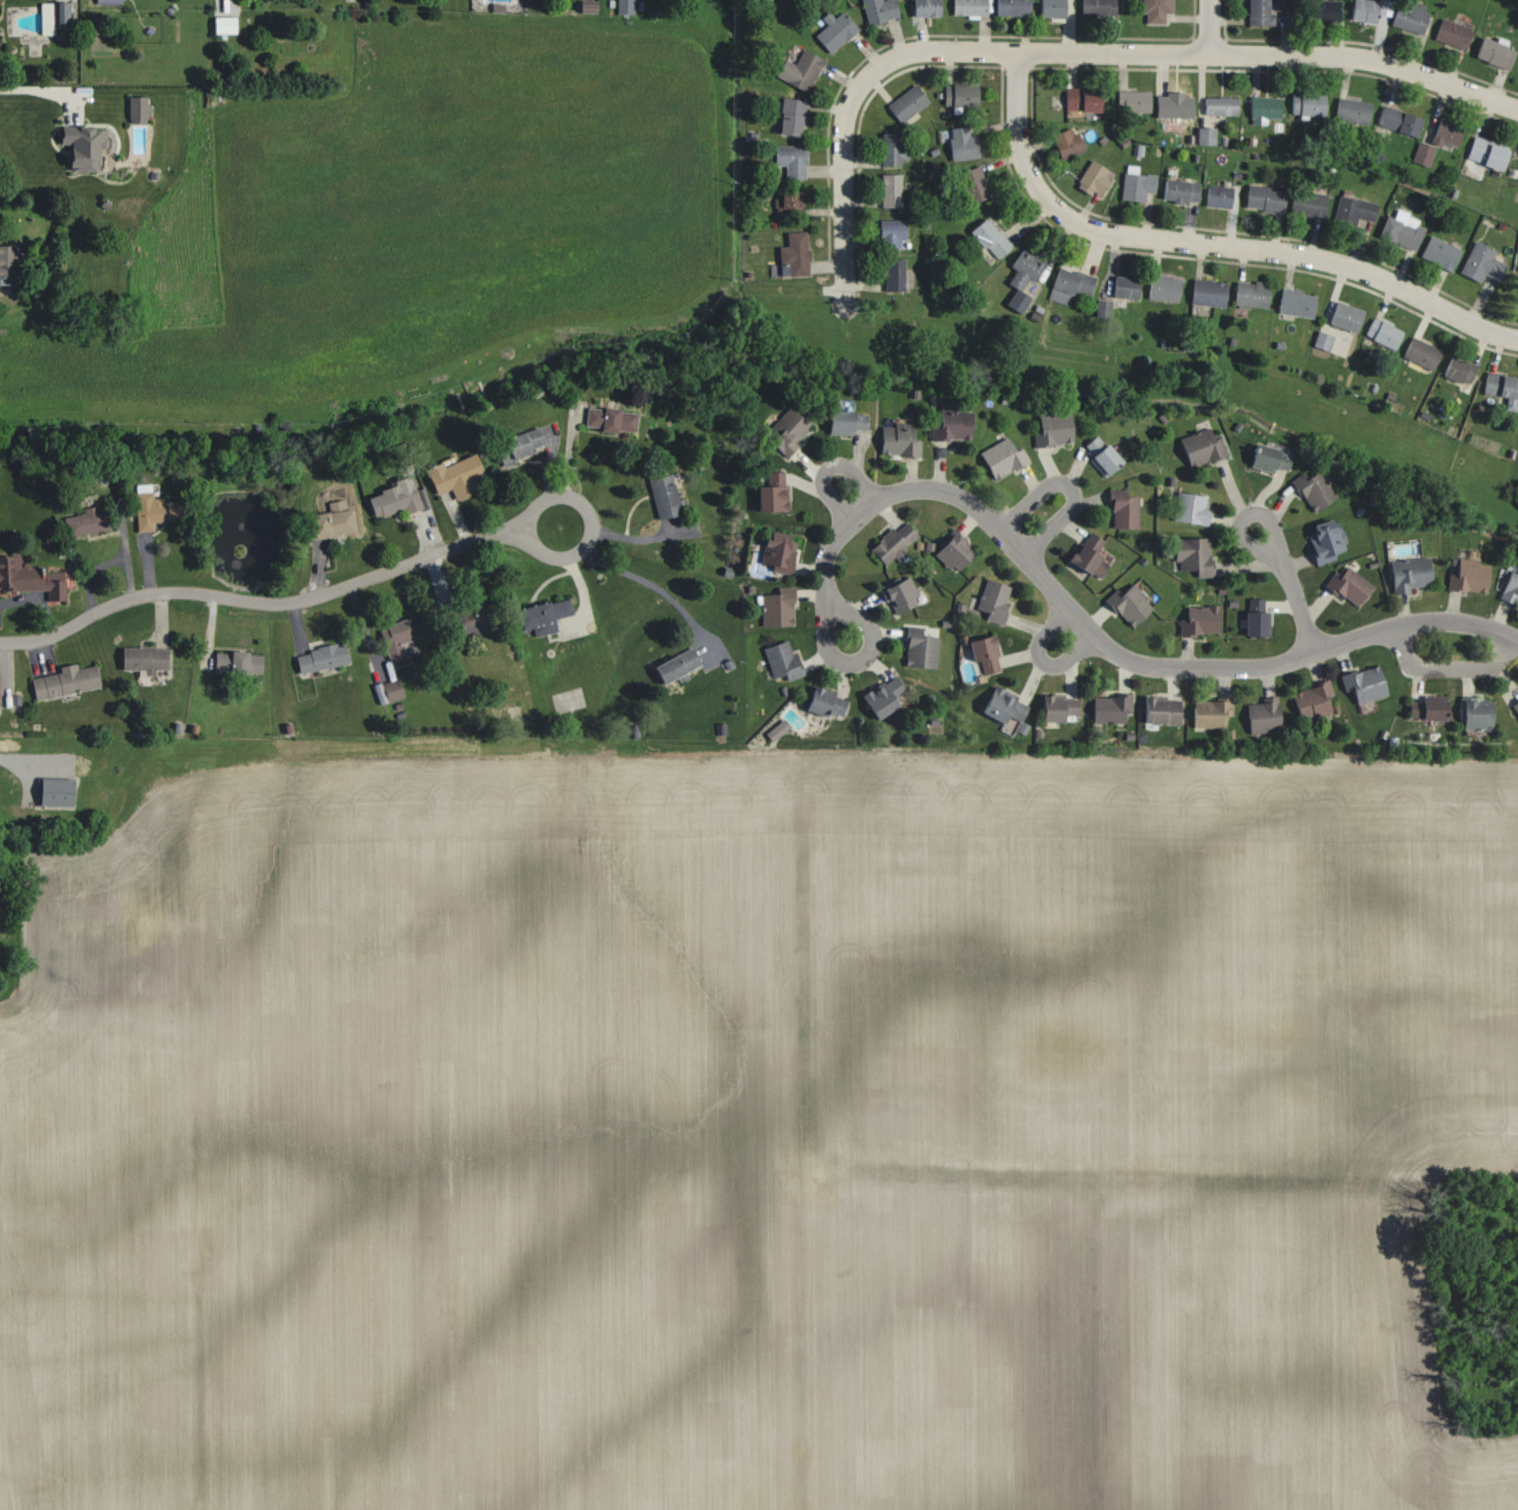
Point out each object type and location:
building: (108, 2)
building: (624, 7)
building: (924, 7)
building: (969, 7)
building: (1011, 7)
building: (587, 8)
building: (1052, 8)
building: (1098, 8)
building: (1156, 9)
building: (879, 10)
building: (1363, 10)
building: (1326, 11)
building: (1258, 12)
building: (1409, 16)
building: (53, 17)
building: (223, 26)
road: (1207, 26)
building: (834, 31)
building: (1452, 33)
road: (1110, 50)
building: (1494, 51)
road: (1365, 59)
building: (800, 70)
road: (36, 88)
building: (960, 94)
building: (1081, 99)
building: (1134, 101)
building: (907, 103)
road: (847, 105)
building: (1174, 105)
building: (1307, 105)
building: (1220, 106)
building: (137, 109)
building: (1264, 109)
building: (1352, 111)
building: (791, 115)
building: (1398, 120)
building: (1446, 132)
building: (1206, 135)
building: (1066, 143)
building: (961, 144)
building: (82, 145)
building: (891, 149)
building: (1486, 153)
building: (1423, 154)
building: (790, 160)
building: (1094, 178)
building: (973, 184)
building: (1136, 184)
building: (890, 190)
building: (1181, 191)
building: (1217, 195)
building: (1264, 198)
building: (787, 200)
building: (1310, 203)
building: (1352, 209)
building: (1401, 229)
building: (891, 232)
building: (989, 238)
road: (1207, 242)
building: (1440, 253)
building: (794, 254)
building: (5, 260)
building: (1481, 263)
building: (894, 274)
building: (1021, 279)
building: (1068, 285)
building: (1125, 287)
building: (1163, 287)
building: (1208, 293)
building: (1250, 294)
building: (1296, 304)
building: (1345, 316)
building: (1383, 333)
building: (1322, 340)
building: (1421, 353)
building: (1459, 370)
building: (1502, 389)
building: (610, 420)
building: (844, 422)
building: (951, 425)
building: (1052, 429)
building: (787, 432)
building: (898, 441)
building: (519, 443)
building: (1201, 447)
building: (1101, 455)
building: (1001, 458)
building: (1269, 459)
road: (827, 466)
road: (909, 472)
building: (453, 476)
road: (1070, 488)
building: (1314, 489)
building: (772, 492)
building: (662, 495)
building: (397, 498)
building: (149, 508)
building: (1191, 508)
building: (1123, 510)
building: (331, 520)
road: (588, 520)
building: (87, 521)
road: (1237, 533)
building: (1325, 541)
building: (893, 544)
building: (778, 552)
building: (952, 553)
building: (1089, 555)
building: (1193, 555)
building: (1409, 574)
building: (1468, 576)
building: (29, 578)
building: (1348, 585)
building: (1510, 586)
road: (660, 587)
building: (899, 595)
road: (37, 600)
road: (255, 600)
building: (992, 601)
road: (1294, 602)
building: (1129, 605)
building: (777, 607)
building: (541, 615)
building: (468, 616)
building: (1200, 620)
building: (1254, 623)
building: (397, 637)
building: (919, 649)
road: (1110, 649)
building: (984, 652)
building: (320, 657)
road: (835, 658)
building: (142, 659)
road: (1040, 659)
building: (780, 660)
building: (239, 662)
building: (676, 665)
road: (1446, 665)
building: (64, 681)
building: (1364, 684)
building: (388, 691)
building: (882, 697)
building: (823, 702)
building: (1313, 702)
building: (1110, 708)
building: (1516, 708)
building: (1058, 709)
building: (1004, 710)
building: (1426, 710)
building: (1161, 711)
building: (1209, 714)
building: (1263, 715)
building: (1475, 715)
building: (776, 730)
road: (25, 775)
building: (54, 792)

